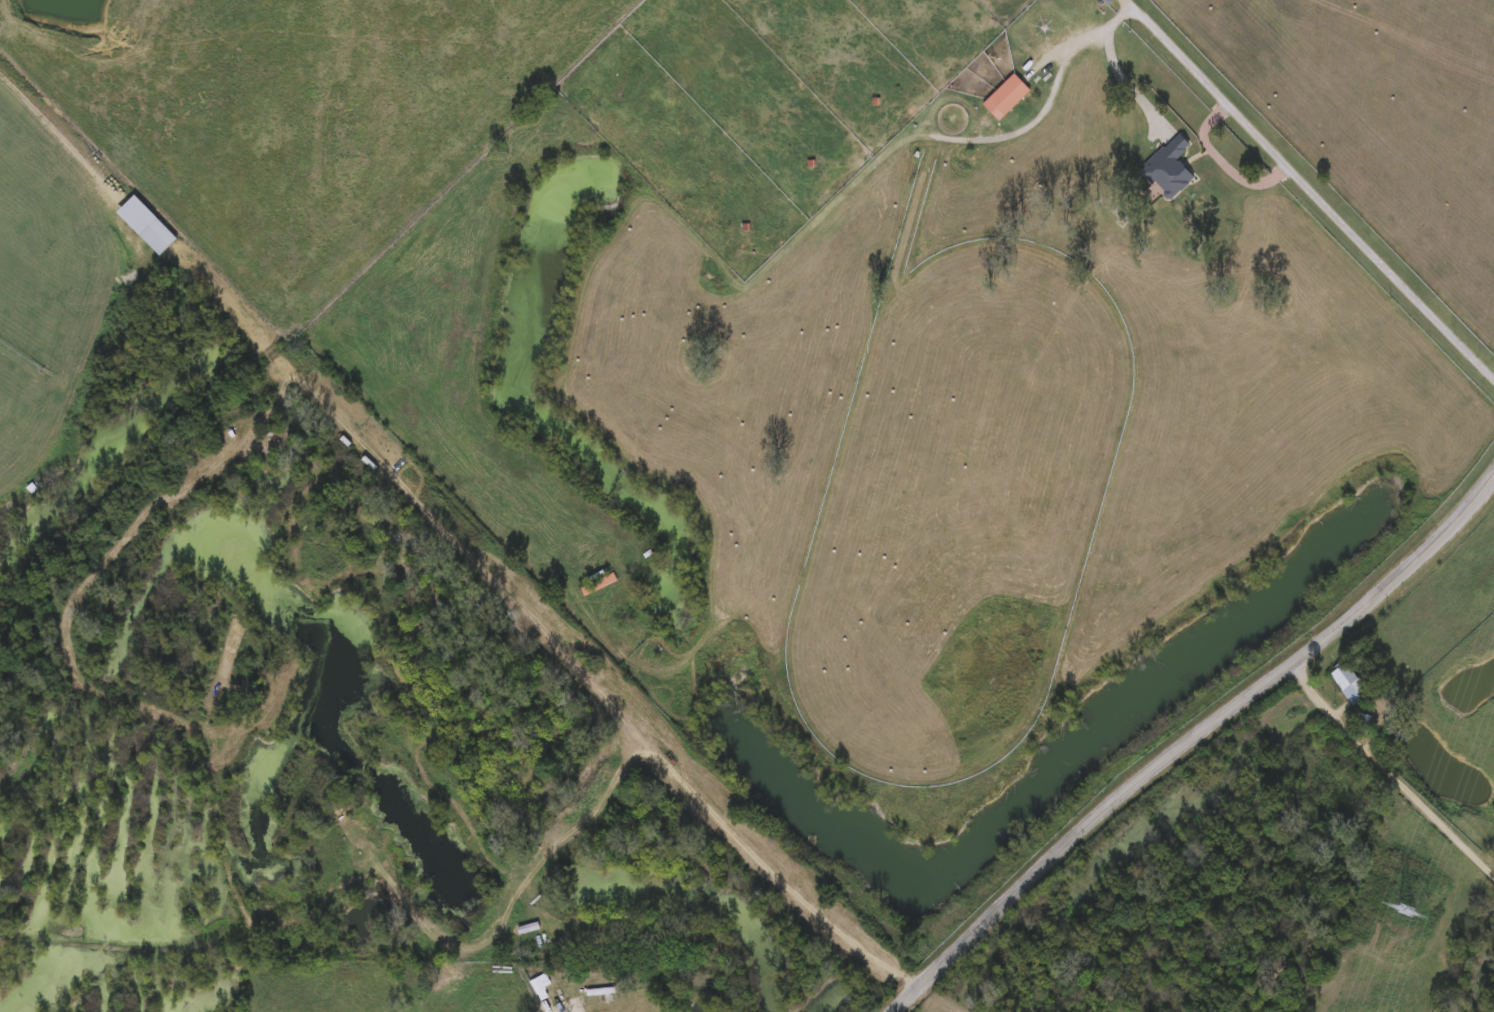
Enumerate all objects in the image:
road: (1099, 35)
road: (1128, 84)
building: (1004, 95)
road: (61, 134)
road: (1224, 161)
building: (1164, 165)
road: (1316, 179)
building: (152, 222)
road: (99, 359)
building: (600, 581)
building: (1348, 680)
road: (623, 723)
road: (1188, 742)
road: (1392, 766)
road: (561, 833)
power tower: (1400, 904)
building: (540, 985)

